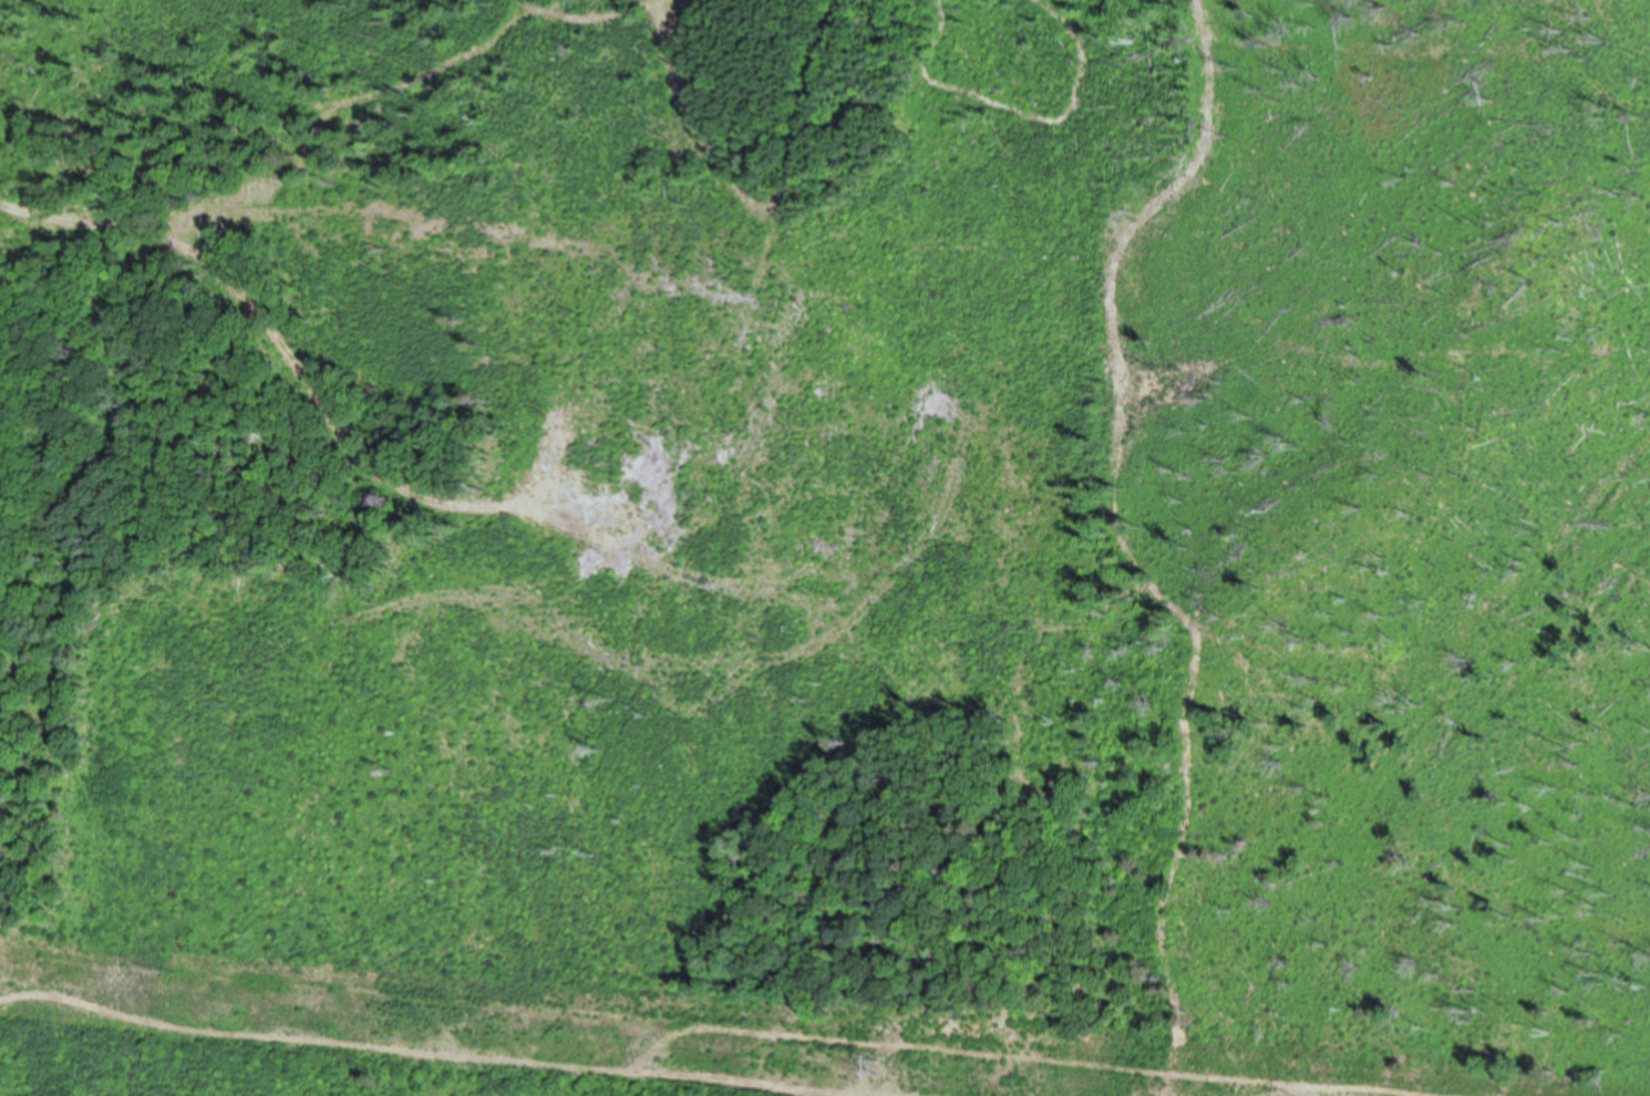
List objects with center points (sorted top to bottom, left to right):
power tower: (904, 1071)

